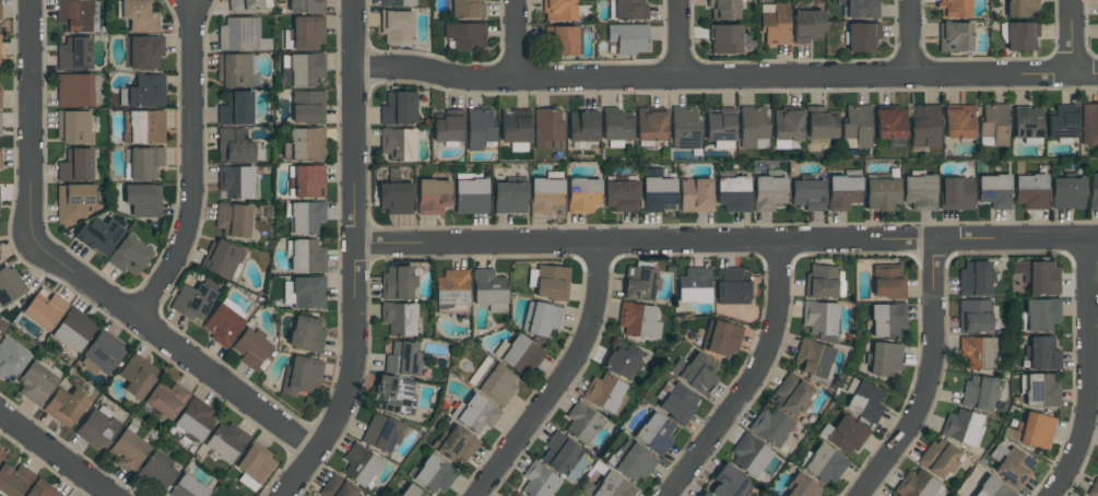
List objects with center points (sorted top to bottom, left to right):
building: (395, 2)
building: (246, 5)
building: (307, 5)
building: (1022, 8)
building: (467, 9)
building: (723, 9)
building: (860, 9)
building: (954, 9)
building: (558, 10)
building: (627, 10)
building: (0, 11)
building: (74, 15)
building: (139, 15)
building: (775, 23)
building: (807, 25)
building: (397, 26)
building: (305, 33)
building: (241, 35)
building: (465, 35)
building: (1020, 35)
road: (682, 37)
building: (862, 37)
road: (908, 37)
building: (954, 37)
road: (1074, 37)
building: (628, 38)
road: (516, 39)
building: (564, 39)
building: (724, 39)
building: (144, 51)
building: (74, 54)
building: (0, 66)
building: (304, 69)
building: (235, 70)
road: (724, 74)
building: (74, 90)
building: (144, 92)
building: (0, 97)
building: (308, 107)
building: (236, 108)
building: (399, 108)
road: (31, 117)
building: (958, 122)
building: (1027, 122)
building: (1061, 122)
building: (820, 123)
building: (889, 123)
building: (0, 125)
building: (719, 125)
building: (787, 125)
building: (993, 125)
building: (1089, 125)
building: (650, 126)
building: (924, 126)
building: (73, 127)
building: (145, 127)
building: (448, 127)
building: (582, 127)
building: (684, 127)
building: (753, 127)
building: (857, 127)
building: (479, 128)
building: (616, 128)
building: (515, 129)
building: (547, 129)
building: (305, 144)
building: (398, 144)
building: (236, 146)
building: (0, 158)
building: (144, 163)
building: (75, 165)
road: (191, 165)
building: (307, 181)
building: (236, 182)
building: (994, 191)
building: (1030, 191)
building: (1093, 191)
building: (842, 192)
building: (920, 192)
building: (657, 193)
building: (733, 193)
building: (768, 193)
building: (881, 193)
building: (956, 193)
building: (1067, 193)
building: (545, 194)
building: (807, 194)
building: (582, 196)
building: (621, 196)
building: (695, 196)
building: (433, 197)
building: (471, 197)
building: (394, 198)
building: (509, 198)
building: (143, 200)
building: (72, 202)
building: (306, 217)
building: (233, 220)
building: (98, 235)
road: (725, 245)
building: (129, 256)
building: (305, 256)
building: (221, 258)
road: (353, 259)
building: (1038, 276)
building: (975, 279)
building: (822, 281)
building: (887, 281)
building: (552, 282)
building: (398, 283)
building: (639, 284)
building: (9, 285)
building: (694, 285)
building: (731, 286)
building: (452, 287)
building: (489, 291)
building: (304, 293)
building: (192, 302)
building: (44, 311)
building: (1039, 315)
building: (975, 316)
building: (819, 318)
building: (399, 319)
building: (541, 319)
building: (887, 319)
building: (638, 321)
building: (222, 326)
building: (73, 330)
building: (306, 334)
building: (721, 338)
road: (170, 344)
building: (250, 349)
building: (977, 353)
building: (518, 354)
building: (1042, 354)
building: (101, 355)
building: (11, 359)
building: (403, 359)
building: (622, 359)
building: (813, 359)
building: (884, 359)
building: (696, 373)
road: (1090, 375)
building: (138, 376)
building: (302, 376)
road: (565, 379)
road: (926, 379)
road: (752, 380)
building: (493, 381)
building: (36, 382)
building: (1040, 391)
building: (979, 392)
building: (604, 393)
building: (393, 394)
building: (792, 394)
building: (166, 400)
building: (865, 401)
building: (678, 403)
building: (64, 406)
building: (475, 414)
building: (194, 418)
building: (581, 423)
building: (769, 426)
building: (963, 427)
building: (98, 428)
building: (1031, 430)
building: (380, 433)
building: (654, 433)
building: (843, 435)
building: (225, 441)
building: (454, 445)
building: (129, 450)
building: (1, 452)
building: (559, 453)
road: (52, 456)
building: (749, 456)
building: (938, 458)
building: (631, 461)
building: (824, 463)
building: (359, 465)
building: (255, 467)
building: (1014, 468)
building: (157, 472)
building: (434, 474)
building: (13, 480)
building: (539, 481)
building: (730, 483)
building: (917, 485)
building: (611, 486)
building: (187, 487)
building: (802, 487)
building: (1093, 487)
building: (337, 488)
building: (993, 488)
building: (42, 489)
building: (411, 492)
building: (513, 494)
building: (700, 494)
building: (889, 495)

